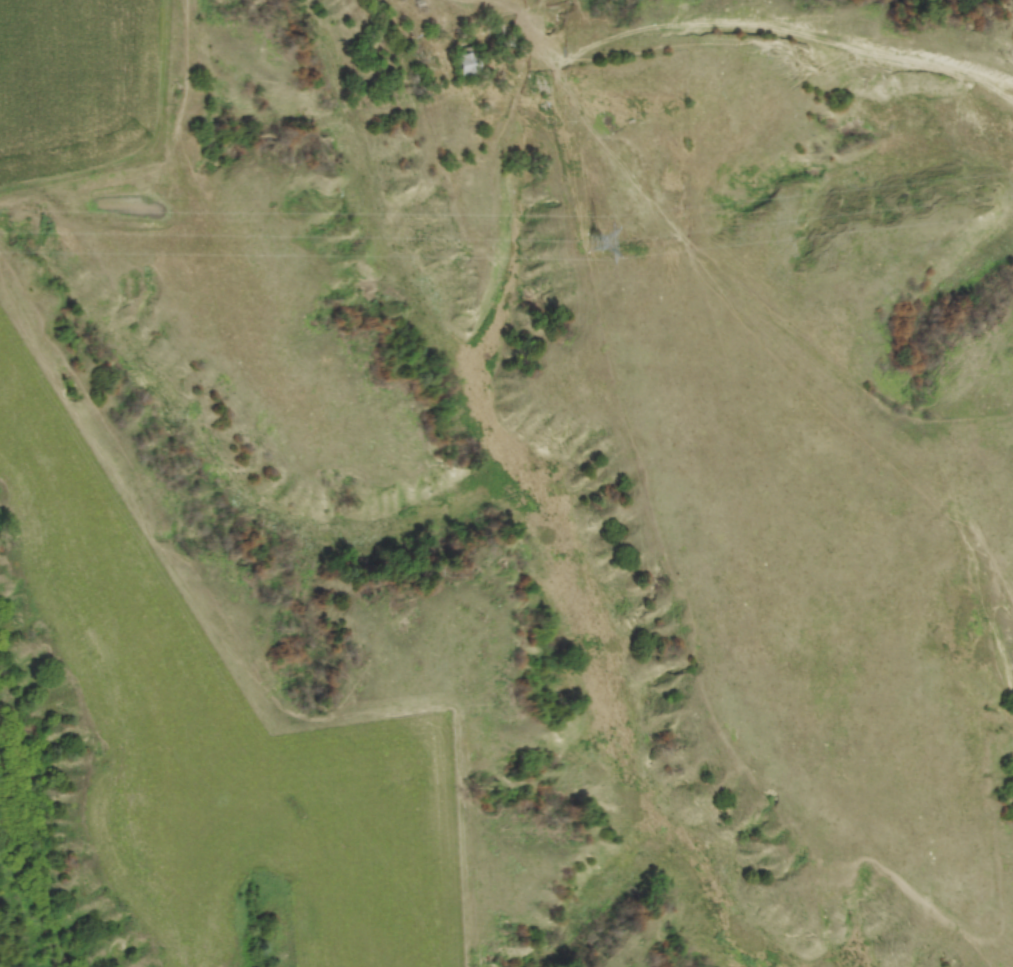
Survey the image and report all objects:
building: (457, 65)
power tower: (582, 248)

